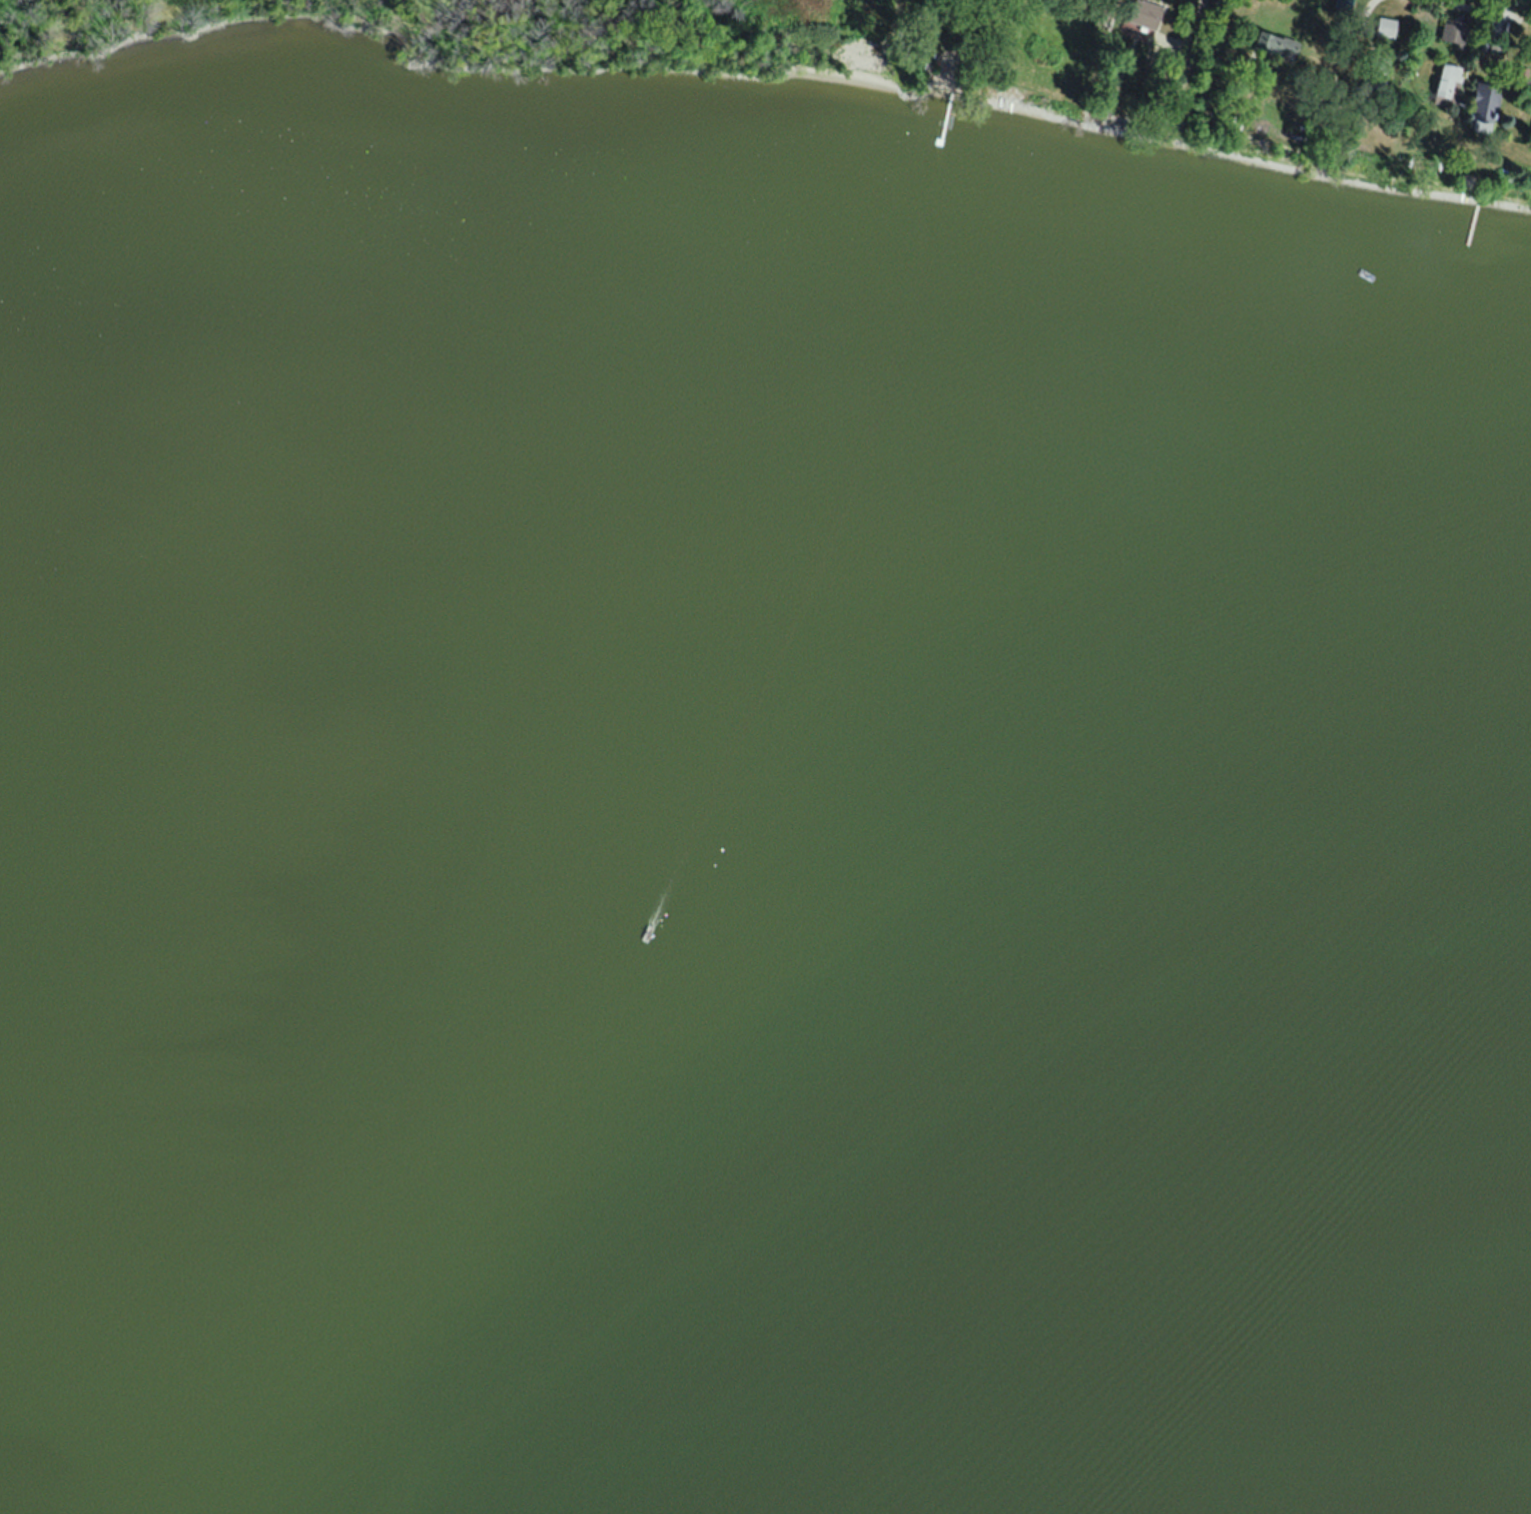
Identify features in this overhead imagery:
building: (1343, 1)
building: (1141, 14)
building: (1385, 27)
building: (1456, 34)
building: (1270, 47)
road: (1188, 70)
building: (1376, 70)
building: (1446, 85)
building: (1483, 102)
building: (1530, 134)

